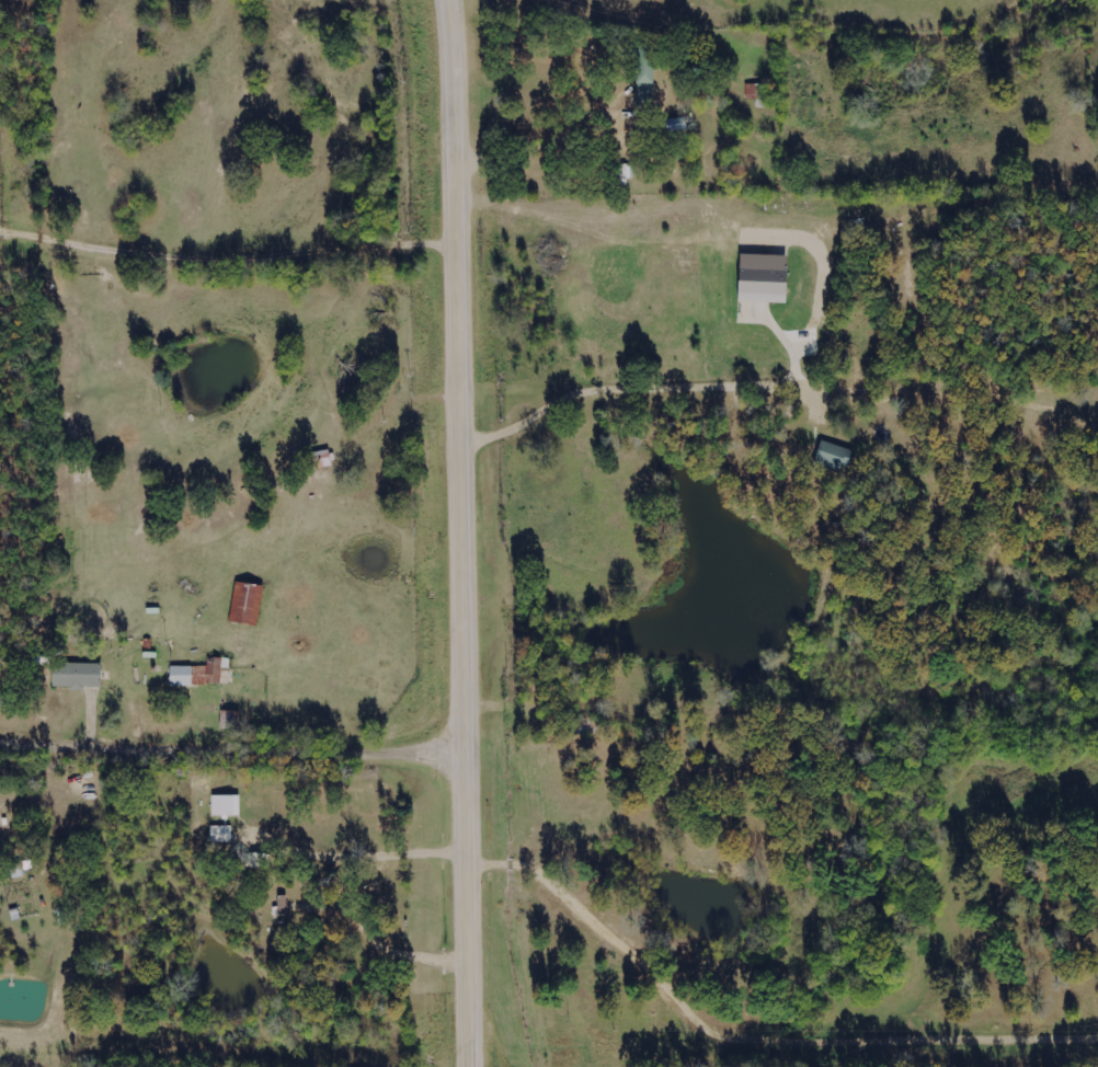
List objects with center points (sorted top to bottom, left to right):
building: (644, 77)
building: (756, 91)
park: (1096, 123)
building: (762, 278)
park: (962, 283)
building: (833, 456)
building: (321, 459)
road: (461, 532)
building: (245, 604)
building: (198, 674)
building: (76, 676)
road: (233, 755)
building: (226, 805)
road: (673, 946)

